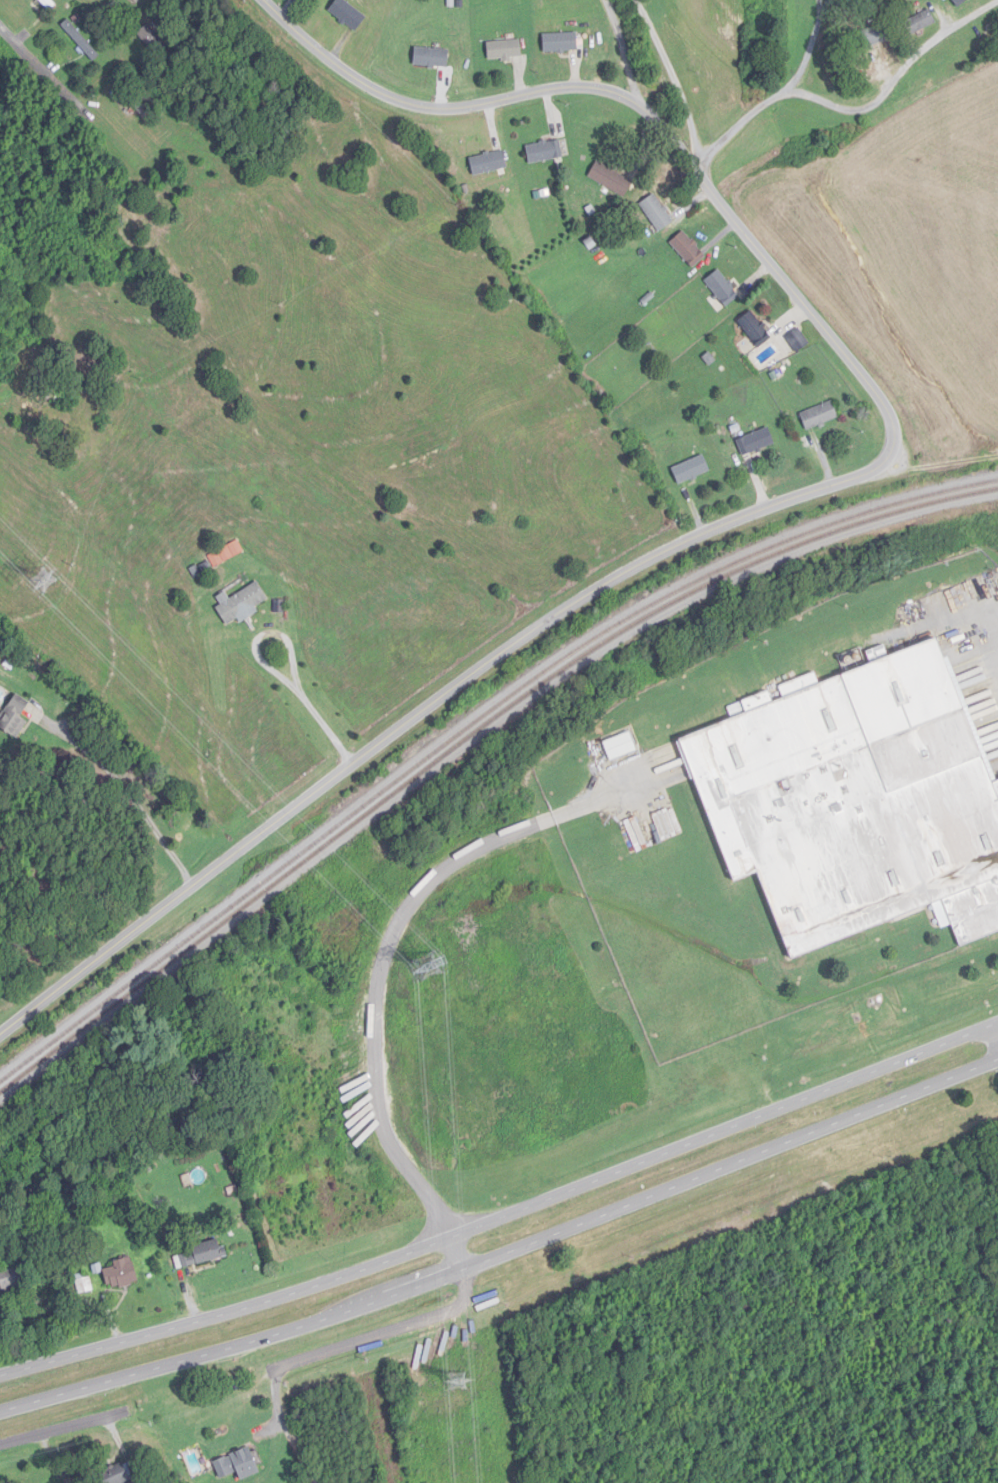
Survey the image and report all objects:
building: (960, 1)
building: (49, 3)
building: (348, 14)
building: (920, 22)
building: (151, 38)
building: (81, 40)
building: (561, 42)
road: (9, 45)
road: (811, 47)
building: (505, 49)
road: (625, 51)
building: (431, 57)
road: (676, 80)
road: (850, 106)
road: (645, 108)
building: (545, 151)
building: (488, 162)
building: (611, 179)
building: (657, 212)
building: (687, 247)
building: (722, 291)
building: (753, 326)
building: (820, 415)
road: (947, 438)
building: (756, 442)
building: (691, 469)
building: (226, 553)
power tower: (46, 581)
building: (242, 603)
road: (993, 620)
road: (276, 674)
road: (434, 706)
building: (14, 716)
railway: (470, 726)
railway: (473, 742)
building: (620, 746)
road: (133, 795)
building: (858, 800)
road: (390, 940)
power tower: (428, 968)
road: (997, 1032)
road: (504, 1218)
building: (203, 1253)
road: (505, 1254)
building: (121, 1274)
building: (12, 1277)
building: (85, 1285)
road: (355, 1347)
power tower: (459, 1380)
road: (63, 1430)
building: (238, 1464)
building: (116, 1475)

